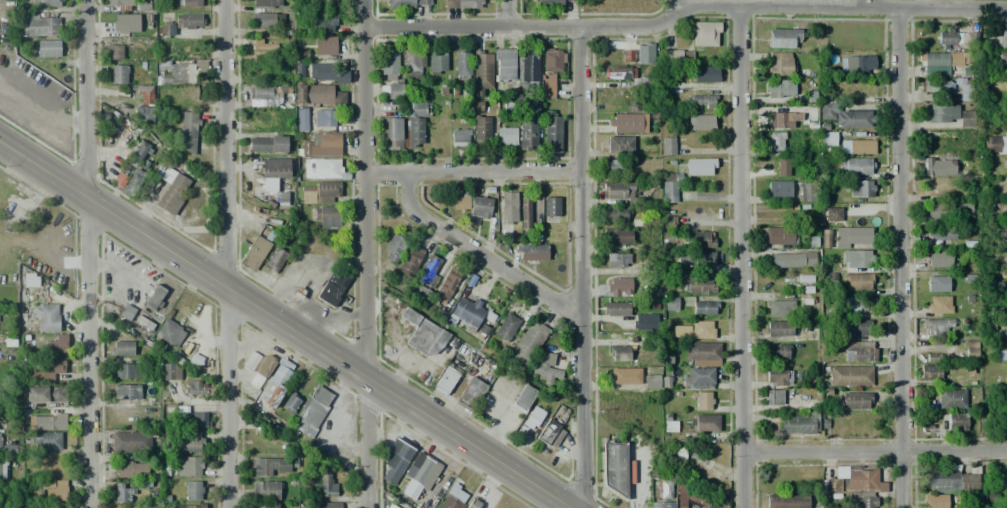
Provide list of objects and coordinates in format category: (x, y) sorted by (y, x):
building: (42, 3)
building: (119, 3)
building: (189, 3)
building: (549, 3)
road: (675, 3)
road: (864, 3)
building: (266, 4)
building: (326, 4)
building: (408, 4)
building: (461, 4)
building: (143, 5)
road: (683, 6)
road: (505, 12)
building: (267, 20)
building: (189, 21)
building: (125, 23)
building: (39, 24)
building: (320, 24)
building: (165, 31)
building: (705, 34)
building: (783, 38)
building: (957, 38)
building: (1003, 38)
building: (324, 45)
building: (48, 48)
building: (263, 48)
building: (114, 52)
building: (644, 55)
building: (676, 55)
building: (627, 56)
building: (937, 59)
building: (1000, 61)
building: (436, 62)
building: (462, 63)
building: (389, 64)
building: (414, 64)
building: (504, 64)
building: (779, 64)
building: (858, 65)
building: (261, 68)
building: (527, 69)
building: (549, 69)
building: (175, 72)
building: (326, 73)
building: (118, 74)
building: (705, 74)
building: (481, 75)
building: (638, 82)
building: (934, 85)
building: (964, 88)
building: (781, 89)
building: (1006, 89)
building: (391, 91)
building: (317, 94)
building: (265, 95)
building: (704, 101)
building: (143, 104)
building: (532, 107)
building: (942, 114)
building: (262, 117)
building: (845, 117)
building: (323, 118)
building: (966, 118)
building: (302, 119)
building: (1005, 119)
building: (783, 120)
building: (701, 122)
building: (629, 123)
building: (412, 125)
building: (481, 128)
building: (188, 130)
building: (391, 134)
building: (551, 134)
building: (506, 135)
building: (527, 136)
building: (460, 138)
building: (994, 141)
building: (775, 142)
building: (267, 144)
building: (322, 144)
building: (620, 144)
building: (668, 146)
building: (861, 147)
building: (138, 154)
building: (857, 166)
building: (935, 166)
building: (1005, 166)
building: (612, 167)
building: (699, 167)
building: (782, 167)
building: (323, 169)
building: (273, 172)
road: (473, 173)
building: (129, 182)
building: (669, 189)
building: (779, 189)
building: (861, 189)
building: (618, 190)
building: (319, 192)
building: (805, 192)
building: (174, 194)
building: (461, 200)
building: (480, 206)
building: (551, 206)
building: (508, 207)
building: (963, 209)
building: (938, 210)
building: (1005, 211)
building: (527, 212)
building: (617, 214)
building: (833, 214)
building: (326, 216)
building: (940, 233)
building: (617, 236)
building: (779, 236)
building: (851, 236)
building: (699, 239)
building: (396, 247)
road: (480, 251)
building: (254, 252)
building: (530, 252)
road: (230, 253)
road: (88, 254)
road: (365, 254)
building: (705, 257)
road: (741, 257)
road: (901, 257)
building: (939, 258)
building: (275, 259)
building: (857, 259)
building: (1006, 259)
building: (617, 260)
building: (791, 260)
building: (410, 261)
road: (581, 267)
building: (430, 270)
building: (30, 280)
building: (857, 282)
building: (937, 283)
building: (447, 285)
building: (701, 286)
building: (332, 287)
building: (619, 287)
building: (155, 297)
building: (939, 304)
building: (855, 305)
building: (703, 308)
building: (616, 309)
building: (781, 309)
building: (125, 311)
building: (466, 313)
building: (46, 318)
building: (644, 322)
road: (288, 323)
building: (506, 327)
building: (937, 327)
building: (858, 328)
building: (779, 329)
building: (694, 330)
building: (170, 332)
building: (1005, 332)
building: (426, 339)
building: (528, 343)
building: (57, 345)
building: (121, 346)
building: (970, 350)
building: (702, 351)
building: (778, 352)
building: (619, 353)
building: (860, 354)
building: (931, 357)
building: (264, 364)
building: (545, 369)
building: (128, 370)
building: (171, 371)
building: (45, 372)
building: (930, 372)
building: (776, 376)
building: (850, 376)
building: (625, 377)
building: (698, 379)
building: (446, 381)
building: (651, 381)
building: (275, 385)
building: (197, 388)
building: (127, 391)
building: (471, 393)
building: (45, 394)
building: (523, 397)
building: (774, 397)
building: (951, 398)
building: (703, 401)
building: (857, 401)
building: (290, 403)
building: (312, 411)
building: (533, 418)
building: (196, 420)
building: (48, 422)
building: (706, 422)
building: (956, 422)
building: (799, 424)
building: (550, 433)
building: (44, 440)
building: (0, 441)
building: (130, 441)
building: (188, 441)
building: (9, 449)
road: (875, 452)
building: (396, 460)
building: (188, 466)
building: (269, 466)
building: (130, 468)
building: (614, 468)
building: (3, 470)
building: (422, 472)
building: (1005, 478)
building: (851, 480)
building: (941, 480)
building: (969, 483)
building: (324, 485)
building: (53, 490)
building: (193, 490)
building: (665, 490)
building: (266, 491)
building: (123, 492)
building: (689, 497)
building: (453, 498)
building: (990, 498)
building: (862, 499)
building: (786, 501)
building: (935, 501)
building: (1005, 501)
building: (2, 504)
building: (474, 504)
building: (663, 504)
building: (269, 505)
building: (326, 505)
building: (189, 506)
building: (6, 507)
building: (50, 507)
building: (387, 507)

